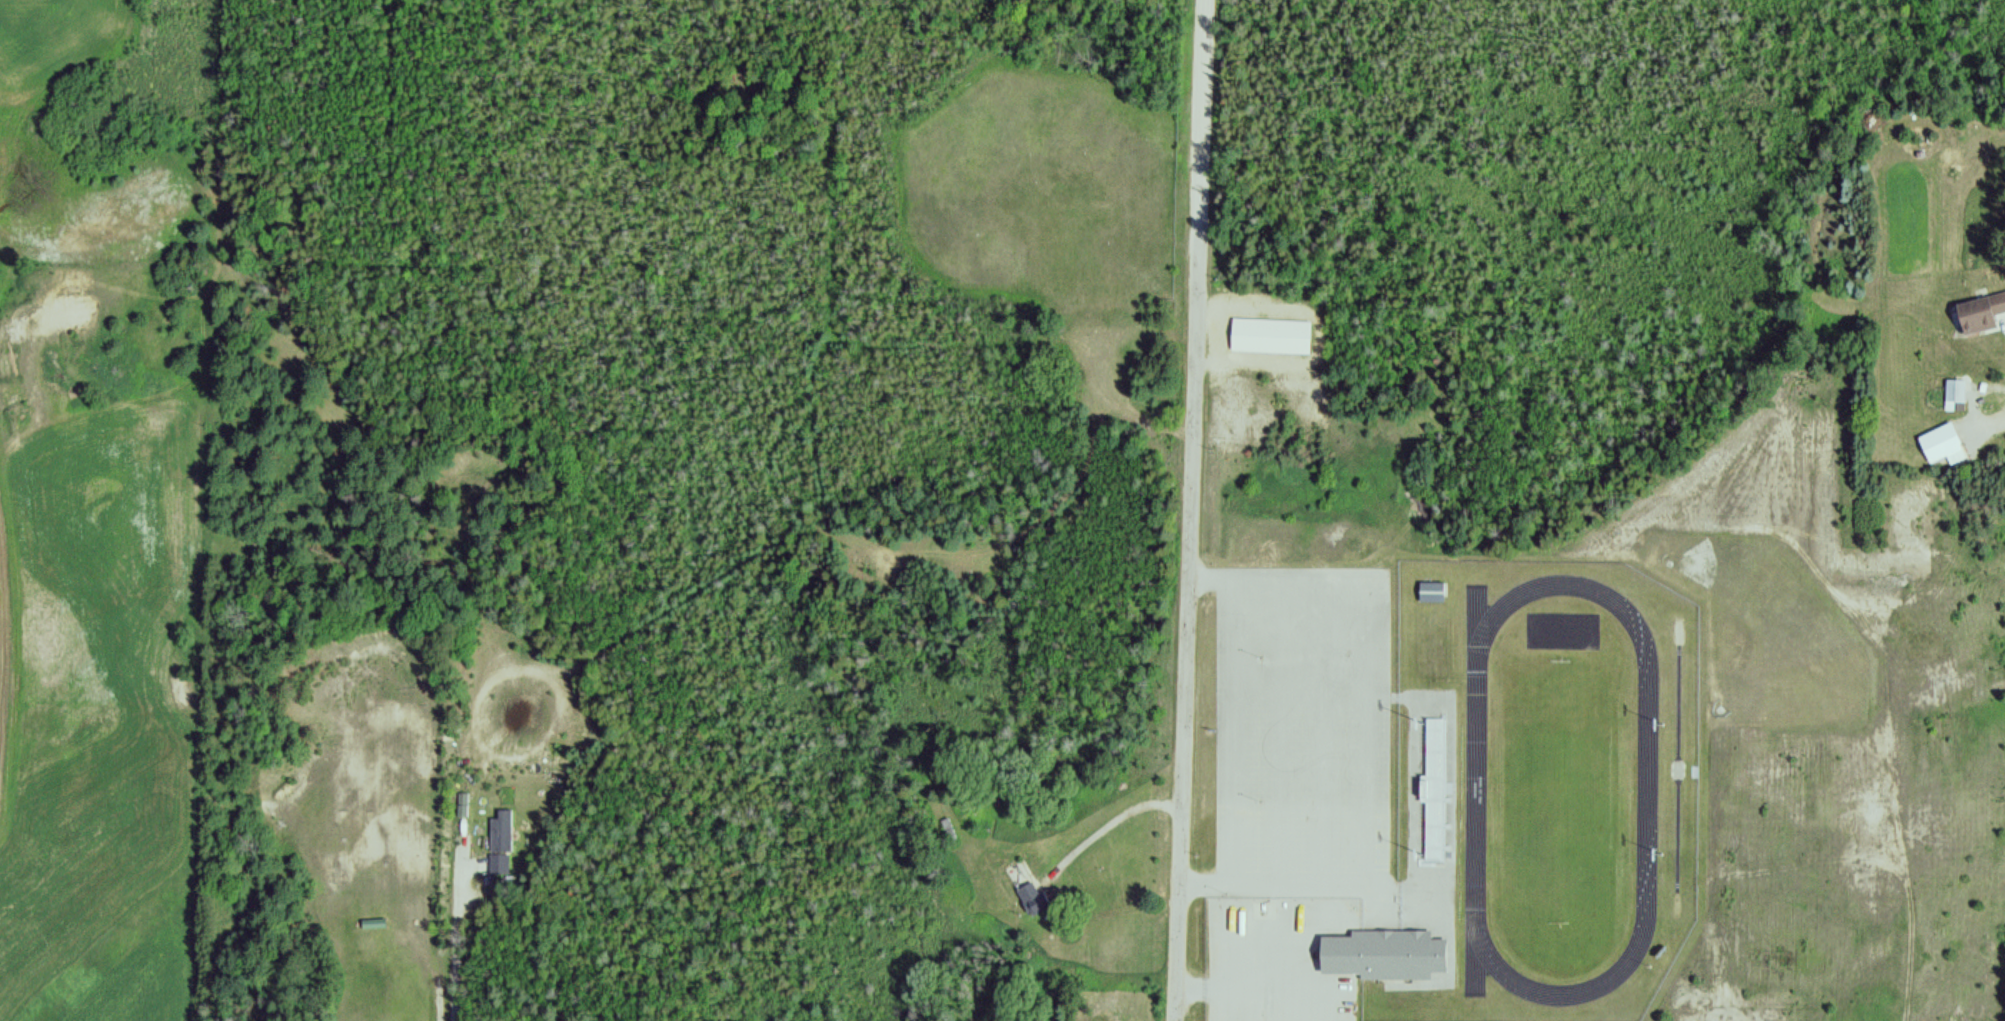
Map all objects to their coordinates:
building: (1978, 315)
building: (1270, 337)
building: (1954, 391)
road: (2002, 422)
building: (1938, 443)
road: (1193, 510)
building: (1432, 593)
track: (1478, 787)
road: (1109, 827)
building: (949, 830)
building: (501, 843)
building: (1031, 899)
building: (372, 925)
building: (1372, 958)

